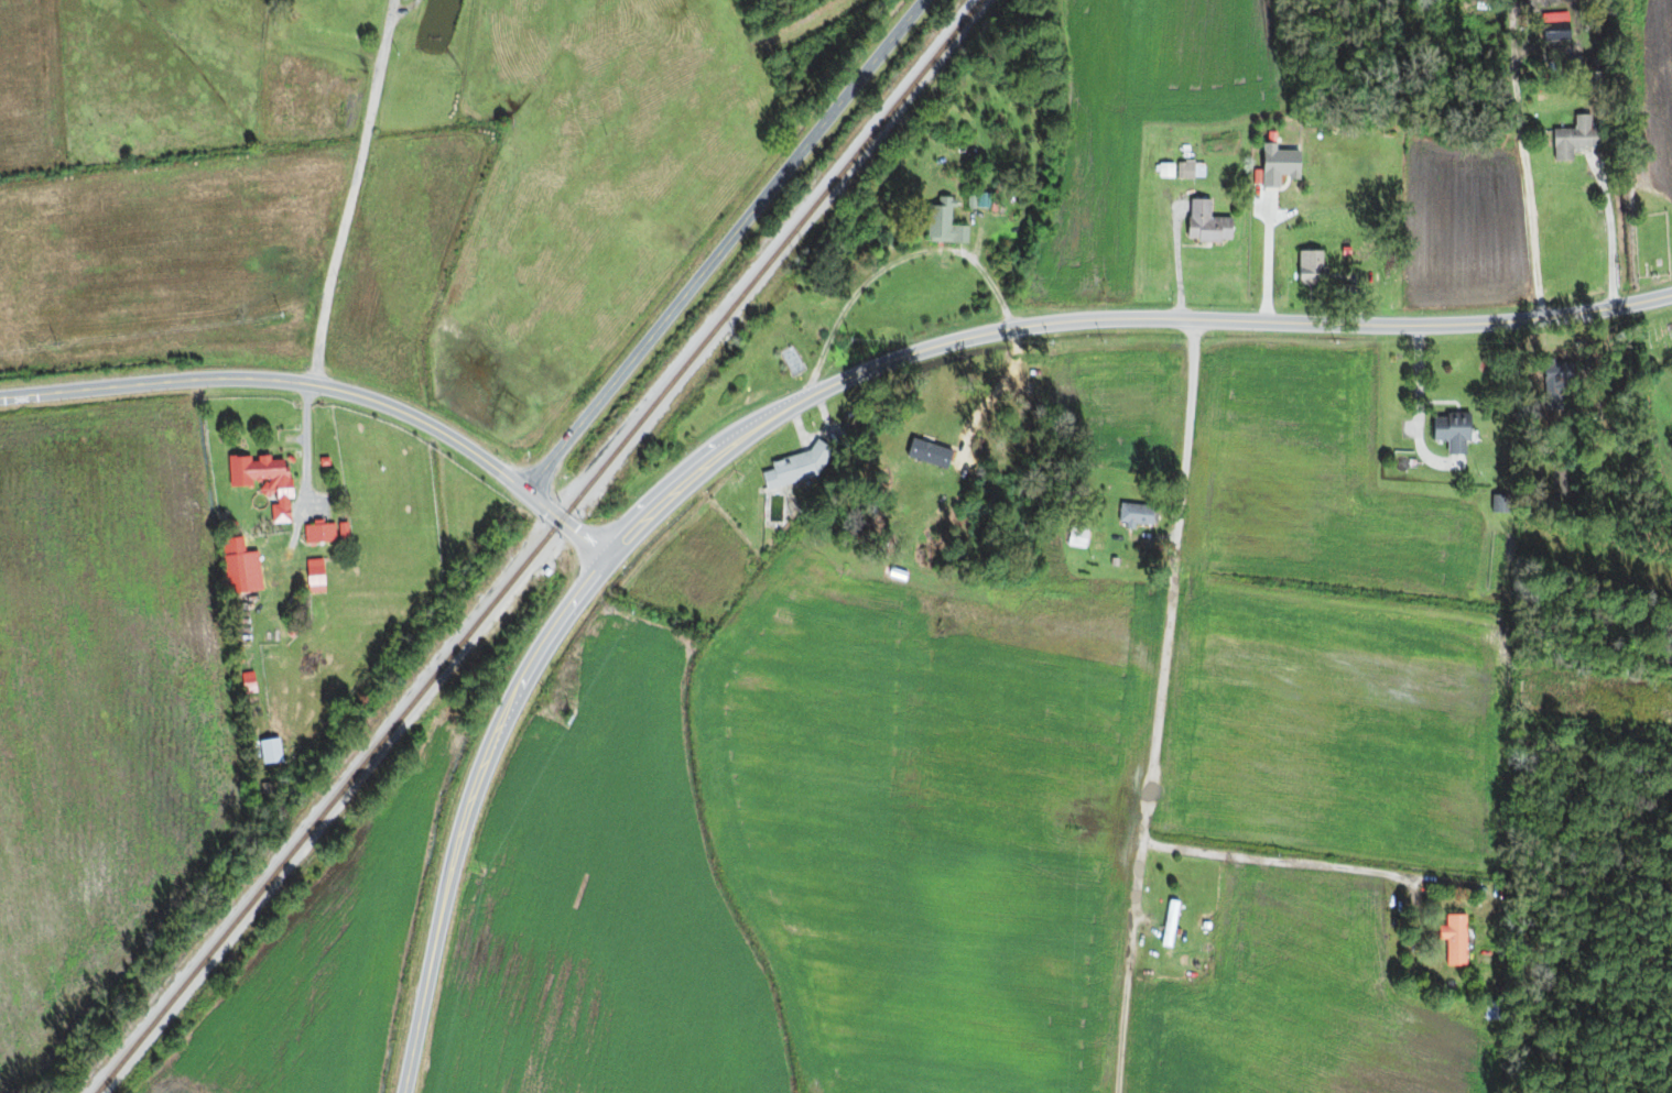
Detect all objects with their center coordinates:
building: (1570, 139)
building: (1188, 171)
road: (350, 190)
building: (942, 223)
building: (1204, 223)
road: (719, 244)
building: (1307, 267)
road: (789, 403)
building: (1448, 433)
building: (931, 456)
building: (795, 467)
building: (272, 484)
building: (1134, 515)
building: (317, 534)
building: (1096, 543)
railway: (535, 547)
building: (232, 566)
building: (246, 684)
road: (1187, 707)
building: (267, 752)
road: (465, 808)
building: (1168, 925)
building: (1452, 939)

